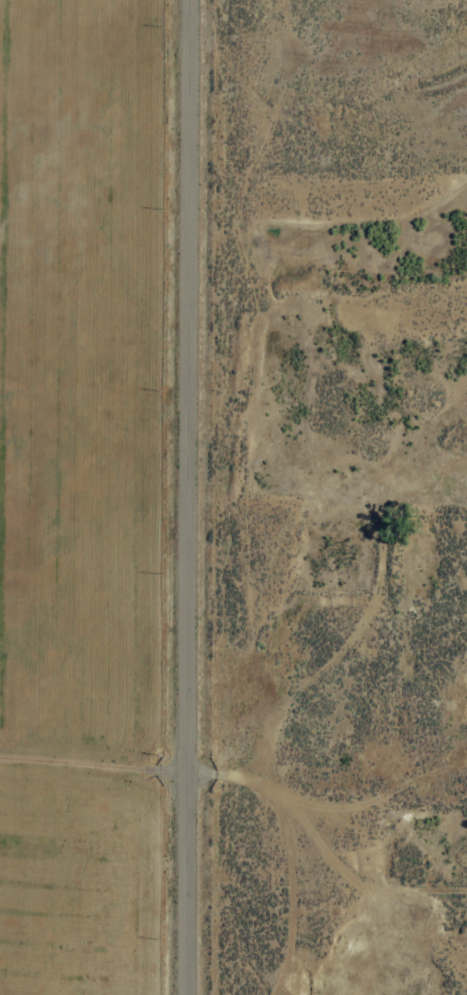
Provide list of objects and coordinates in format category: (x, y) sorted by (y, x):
road: (186, 497)
crop: (180, 581)
road: (319, 849)

